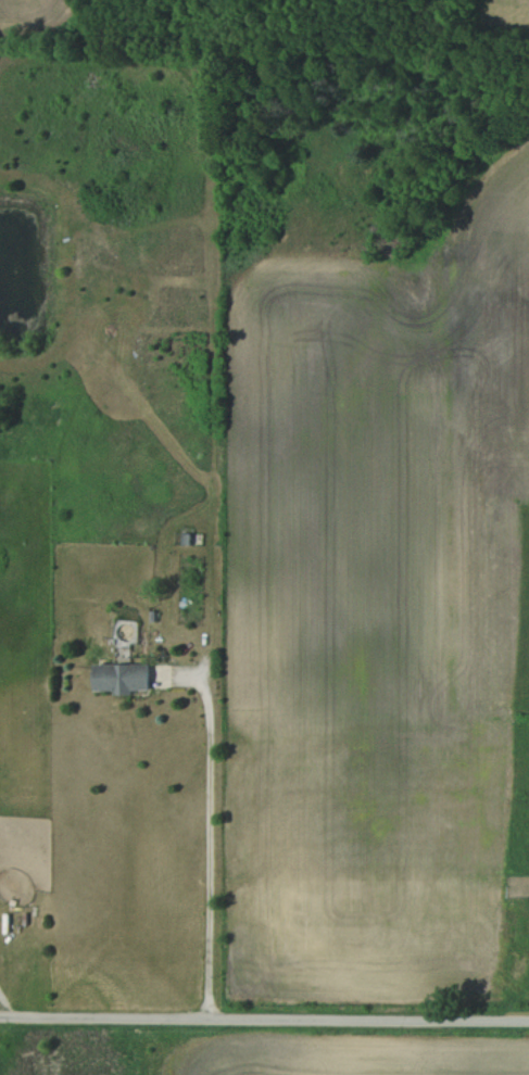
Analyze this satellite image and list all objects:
building: (118, 678)
road: (209, 845)
road: (264, 1014)

